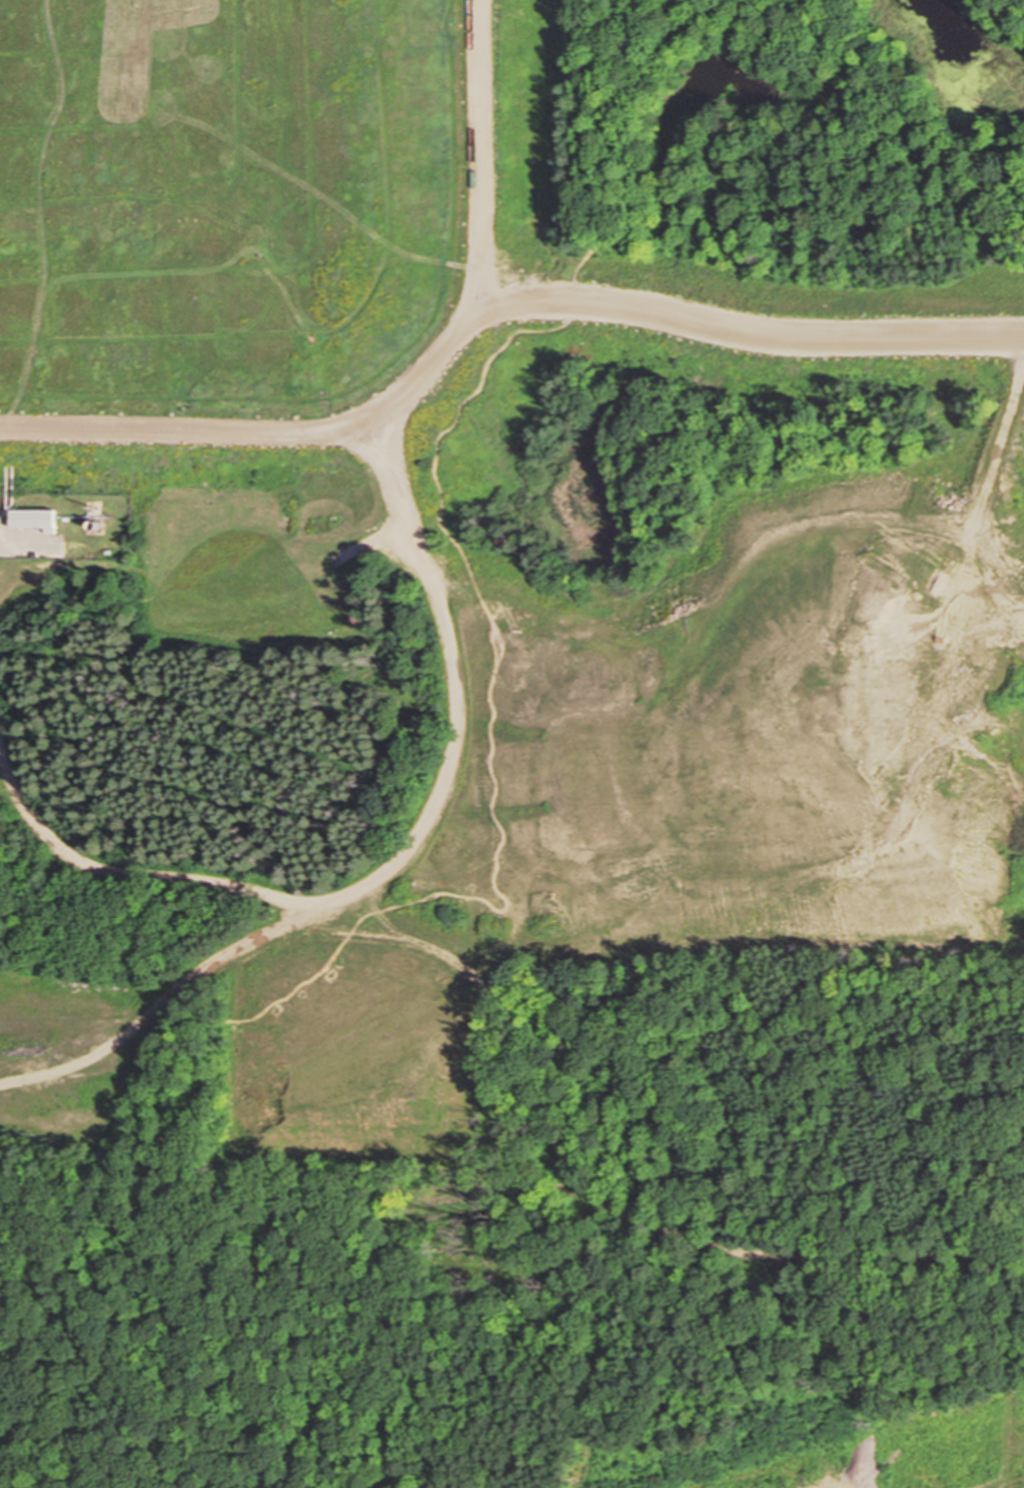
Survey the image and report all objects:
road: (413, 401)
building: (38, 519)
landfill: (512, 744)
road: (127, 1303)

